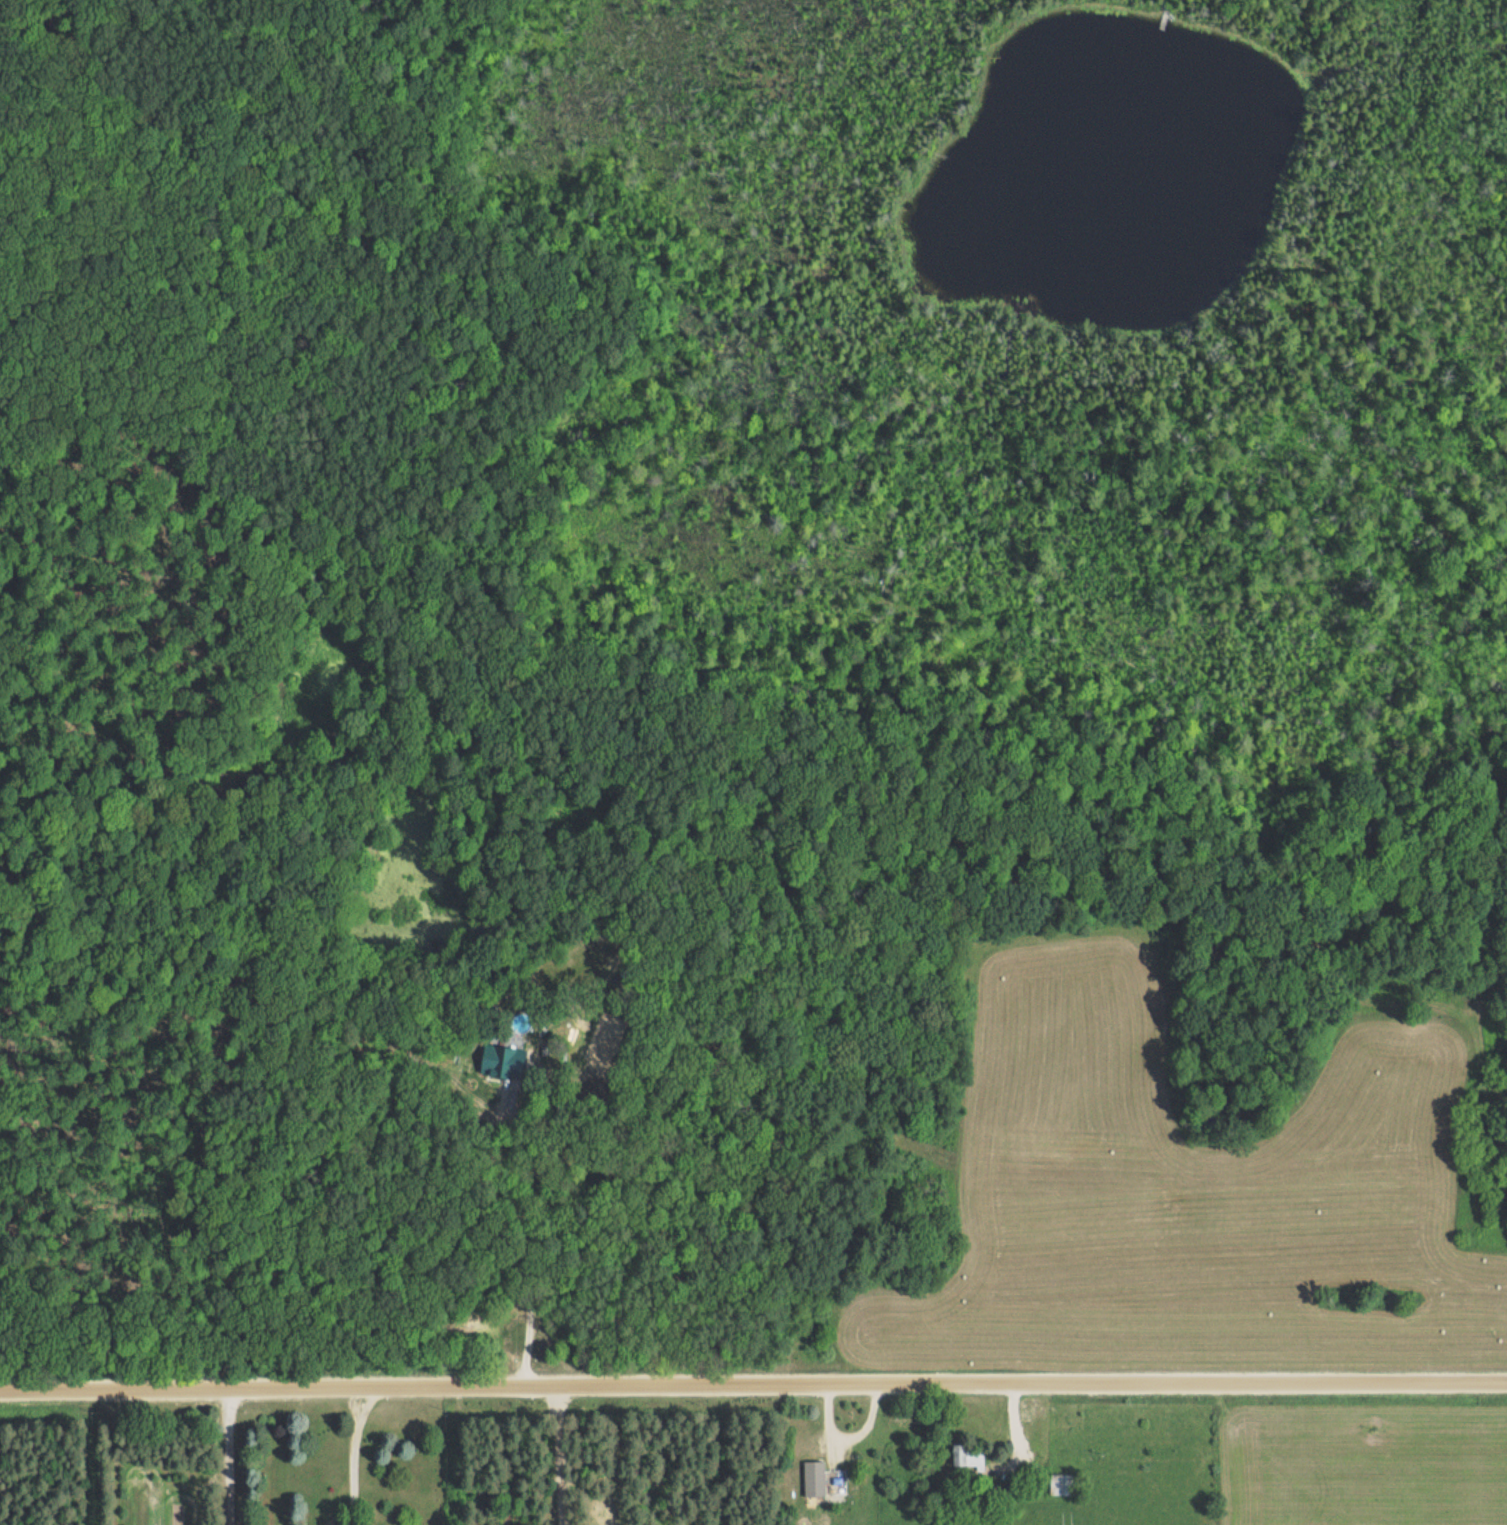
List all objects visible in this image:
road: (526, 1237)
road: (753, 1383)
road: (827, 1424)
road: (867, 1424)
road: (1014, 1433)
road: (354, 1455)
building: (968, 1456)
road: (239, 1457)
building: (814, 1478)

